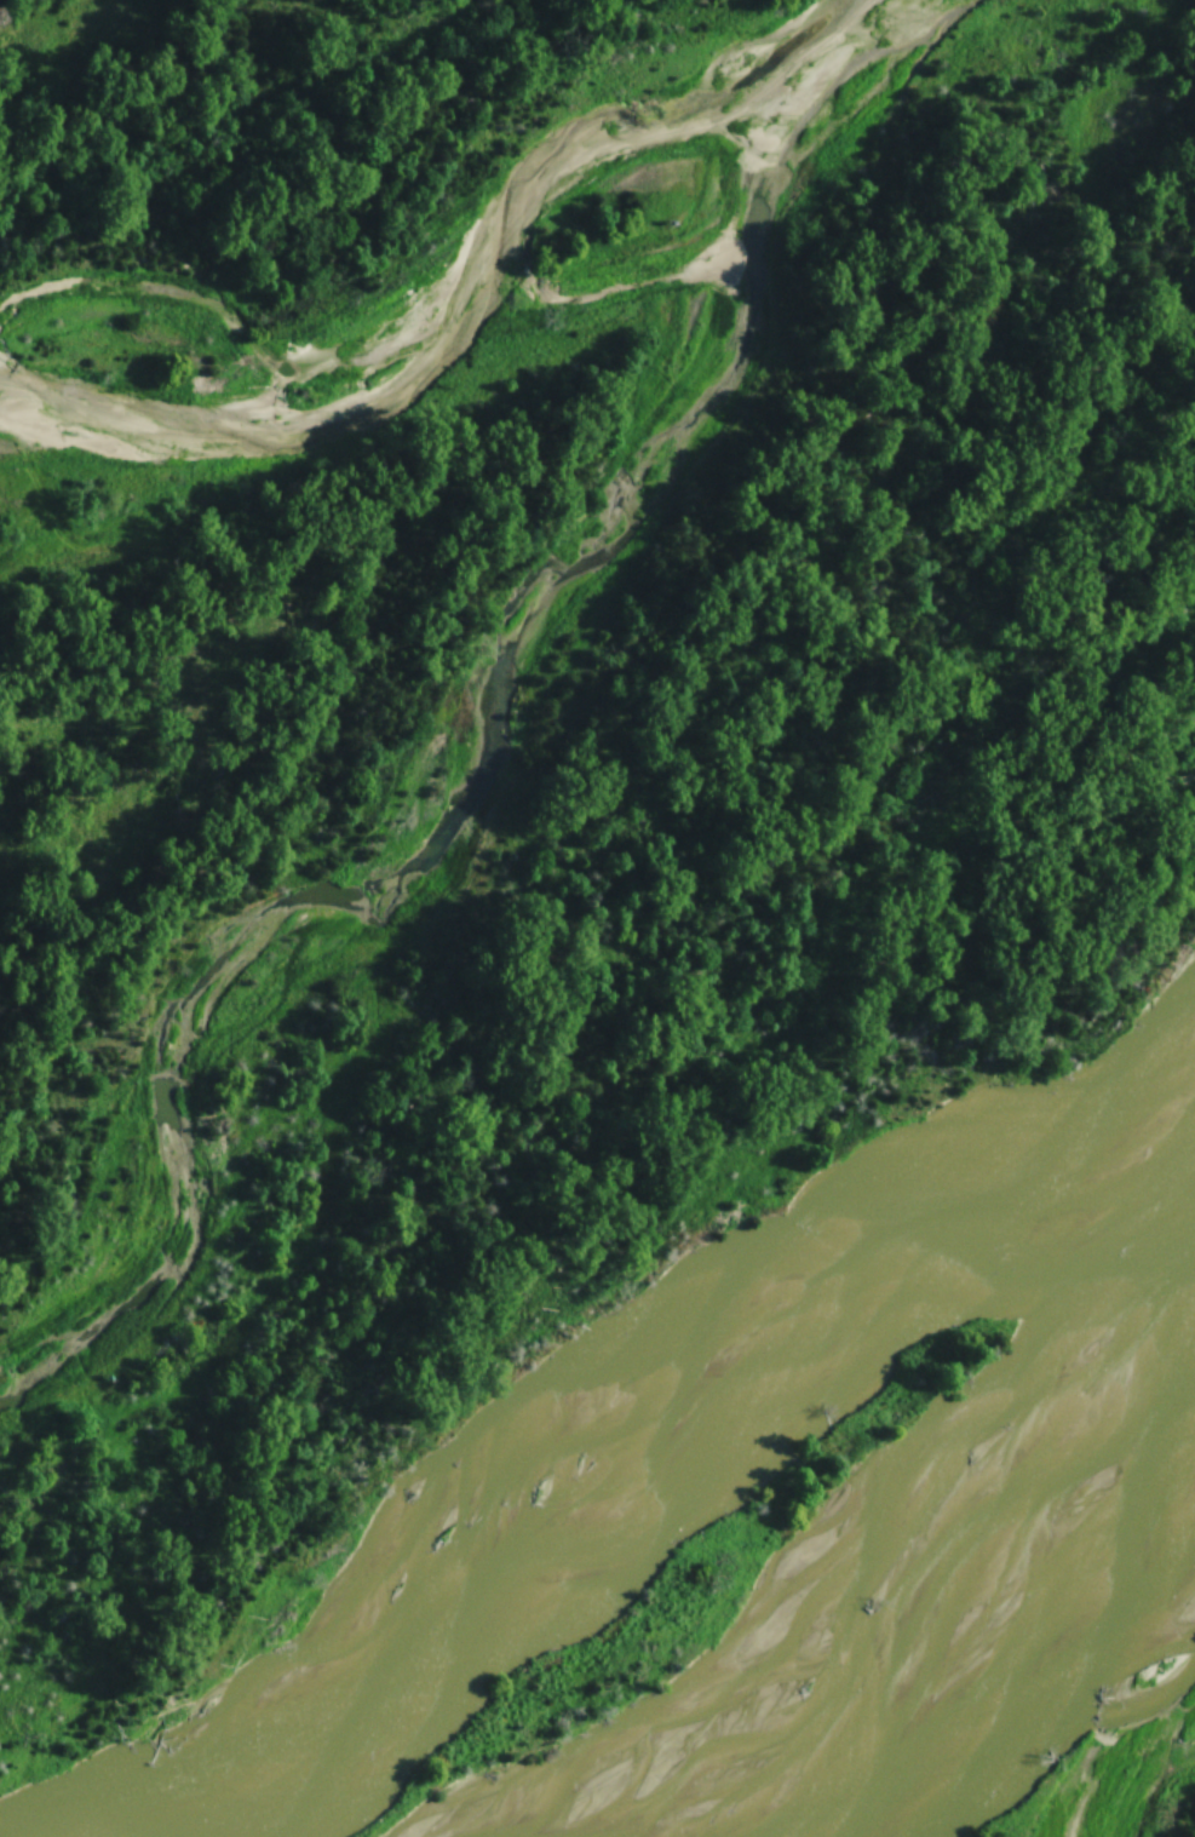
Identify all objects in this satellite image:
river: (1001, 1611)

